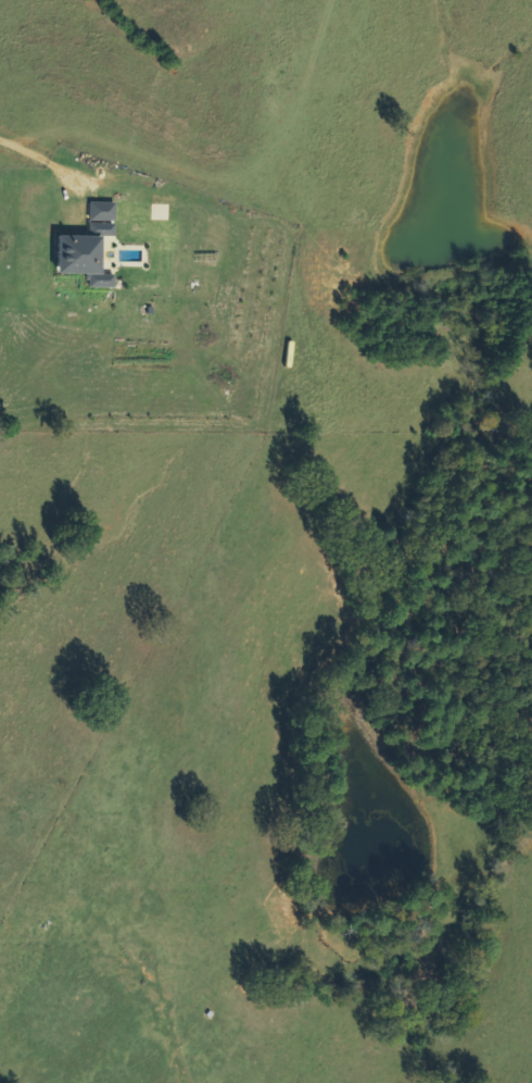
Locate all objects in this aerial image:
building: (91, 250)

